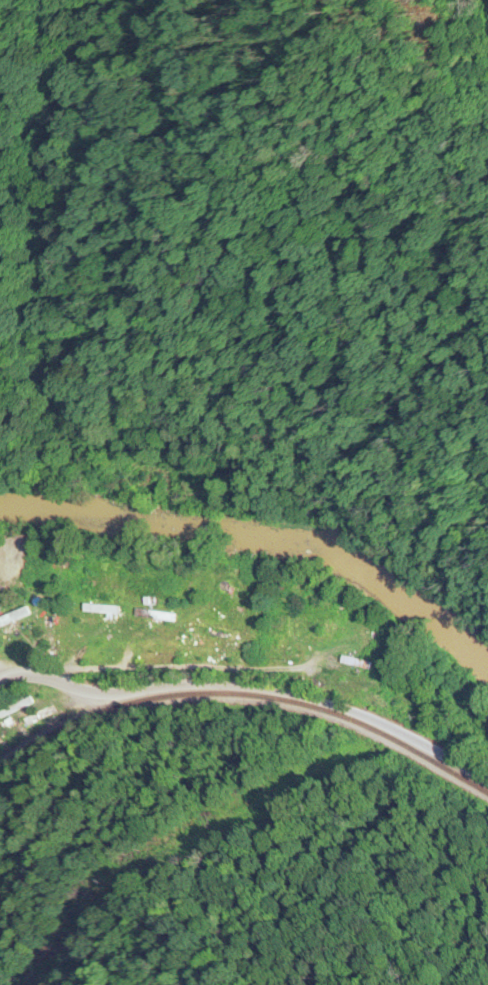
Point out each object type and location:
river: (259, 534)
building: (16, 610)
building: (324, 621)
building: (93, 622)
road: (251, 689)
railway: (247, 727)

